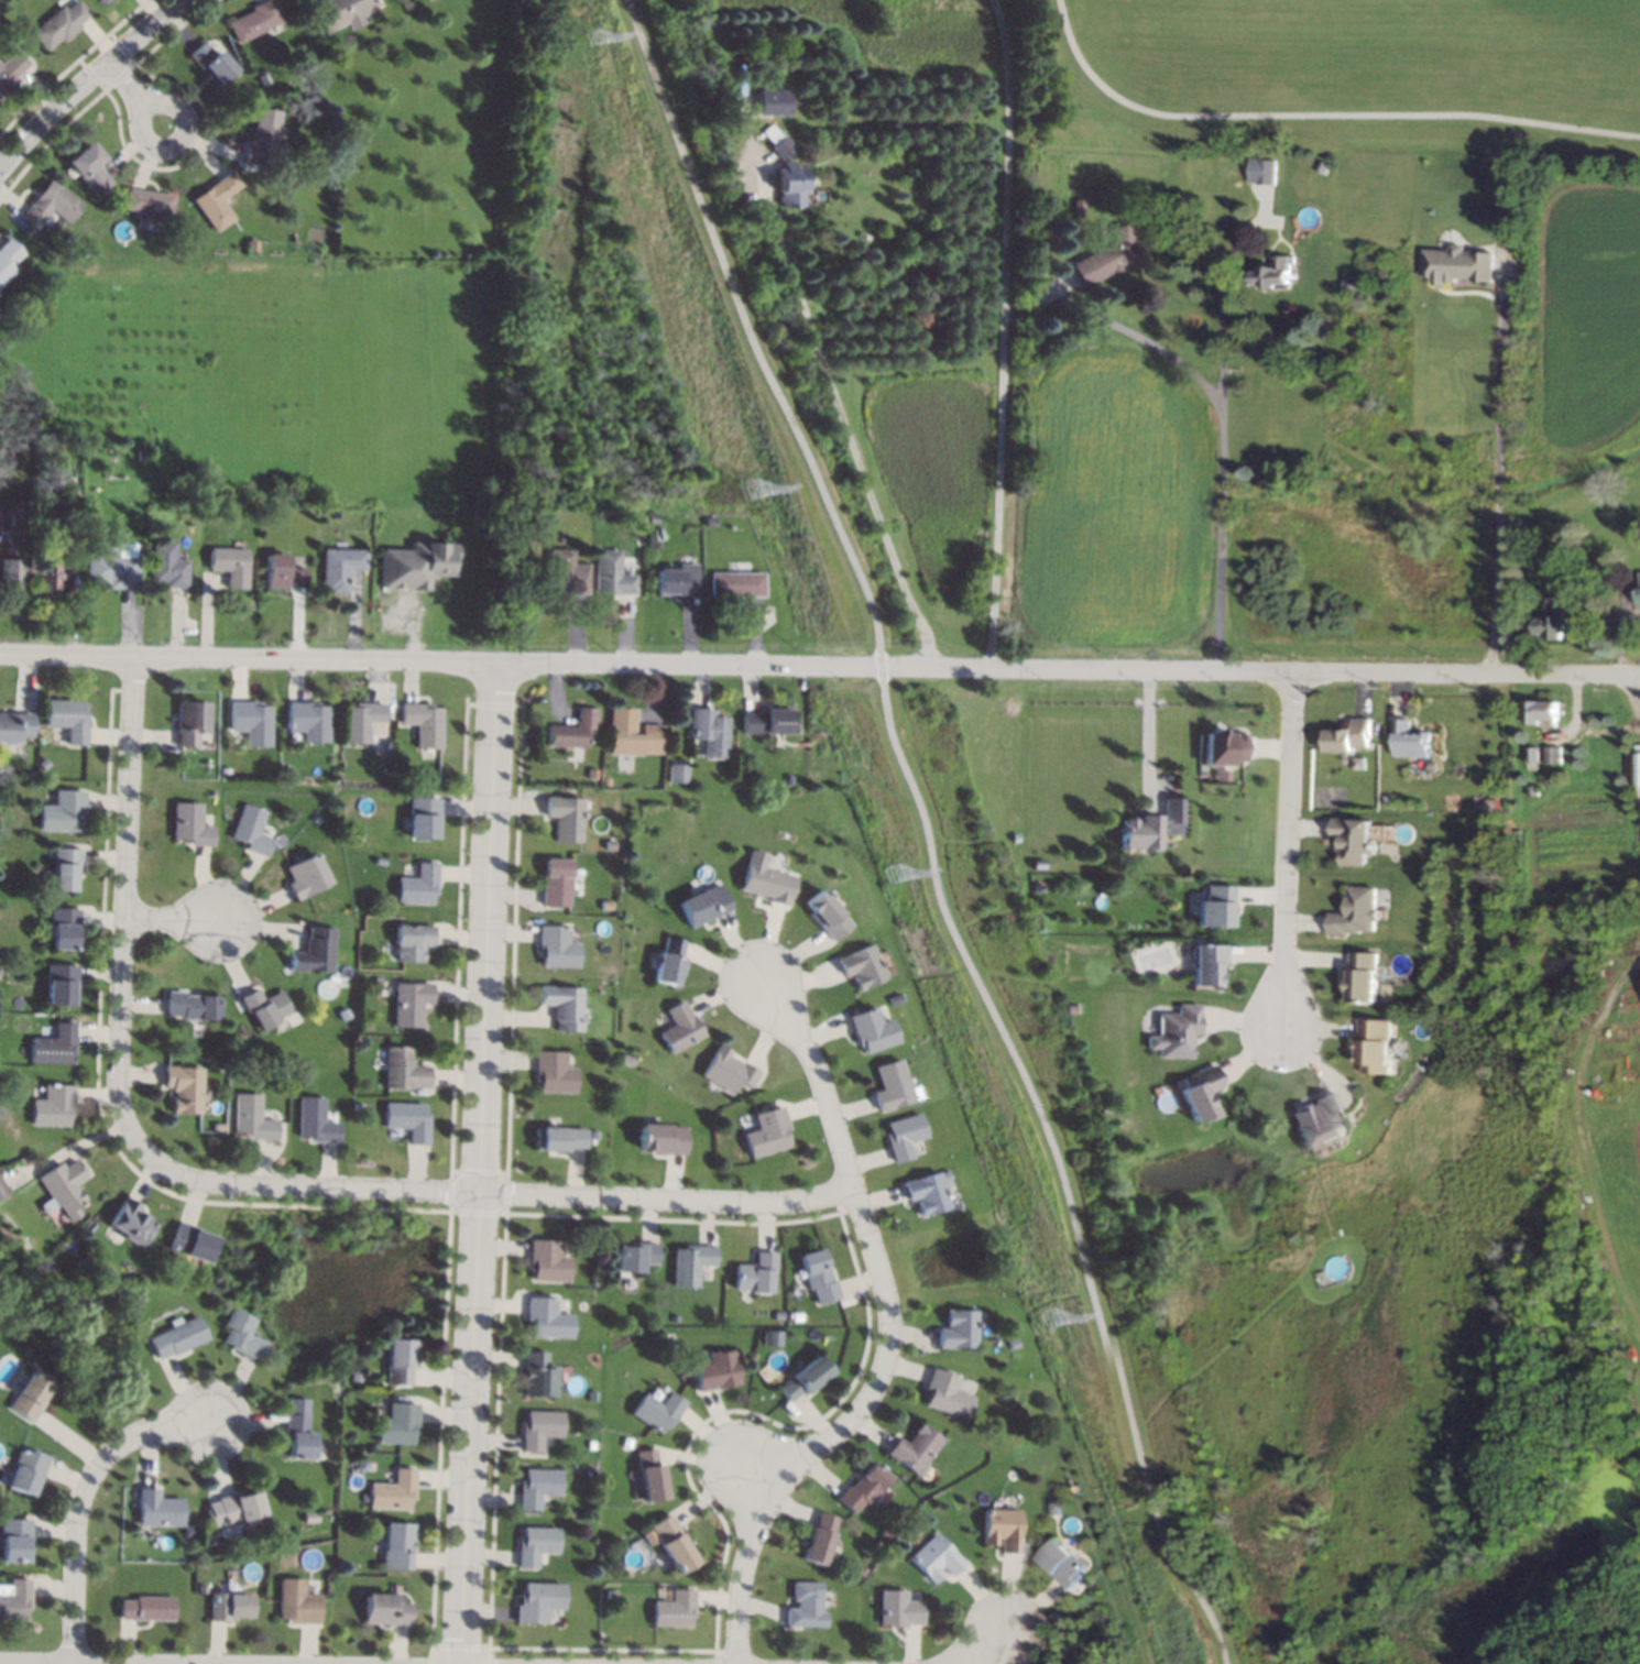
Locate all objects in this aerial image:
building: (105, 1)
building: (340, 12)
building: (256, 20)
building: (61, 24)
building: (20, 40)
building: (214, 62)
park: (1334, 70)
building: (11, 72)
road: (122, 77)
building: (264, 78)
road: (86, 86)
building: (773, 101)
road: (1319, 114)
building: (770, 133)
building: (264, 138)
road: (177, 141)
building: (783, 146)
building: (1321, 164)
building: (90, 167)
building: (1267, 171)
building: (790, 184)
building: (218, 200)
building: (51, 205)
building: (151, 205)
building: (1078, 206)
building: (252, 247)
building: (1113, 256)
building: (8, 258)
building: (1458, 263)
building: (1275, 273)
building: (1352, 282)
park: (746, 328)
road: (1002, 333)
road: (1146, 341)
road: (848, 420)
road: (1217, 440)
building: (41, 451)
building: (141, 453)
road: (1494, 482)
building: (64, 504)
building: (222, 508)
building: (17, 518)
building: (654, 518)
building: (712, 519)
building: (642, 522)
building: (659, 534)
building: (558, 536)
building: (416, 563)
building: (167, 565)
building: (229, 565)
building: (113, 567)
building: (340, 567)
building: (12, 572)
building: (282, 572)
building: (565, 573)
building: (611, 573)
building: (47, 577)
building: (678, 579)
building: (737, 583)
building: (1639, 589)
building: (1555, 621)
road: (819, 667)
building: (1541, 711)
road: (1605, 718)
building: (68, 719)
building: (308, 720)
building: (364, 721)
building: (767, 721)
building: (251, 722)
building: (189, 723)
building: (424, 723)
building: (15, 726)
building: (573, 730)
building: (709, 731)
building: (632, 734)
road: (1147, 734)
building: (1349, 736)
building: (1410, 740)
building: (1222, 747)
building: (1532, 755)
building: (1553, 755)
building: (44, 764)
building: (1431, 767)
building: (1637, 768)
building: (678, 773)
building: (1221, 774)
building: (30, 775)
building: (789, 780)
building: (1532, 789)
building: (208, 796)
building: (1385, 799)
building: (1639, 809)
building: (63, 812)
building: (425, 818)
building: (565, 818)
building: (190, 824)
building: (1149, 826)
building: (251, 830)
road: (927, 831)
building: (405, 833)
building: (1015, 838)
building: (1355, 841)
building: (610, 845)
road: (1287, 845)
building: (381, 862)
building: (65, 868)
building: (307, 874)
building: (765, 879)
building: (556, 883)
building: (419, 885)
building: (1039, 886)
building: (706, 906)
building: (1215, 907)
building: (1356, 913)
building: (824, 915)
road: (127, 917)
road: (174, 920)
building: (63, 929)
building: (414, 941)
building: (557, 948)
building: (316, 951)
building: (670, 962)
building: (1204, 964)
building: (860, 966)
building: (1367, 974)
building: (63, 983)
building: (378, 983)
building: (411, 1004)
building: (193, 1006)
building: (562, 1006)
building: (265, 1007)
building: (1069, 1008)
building: (679, 1028)
building: (870, 1029)
building: (1176, 1032)
building: (55, 1044)
building: (1401, 1044)
building: (1376, 1047)
building: (247, 1051)
building: (221, 1052)
building: (625, 1061)
building: (404, 1070)
building: (726, 1070)
building: (553, 1073)
building: (281, 1074)
building: (303, 1074)
building: (888, 1085)
building: (185, 1087)
building: (1199, 1093)
building: (54, 1106)
building: (253, 1118)
building: (408, 1120)
building: (316, 1121)
building: (1315, 1123)
building: (220, 1128)
building: (764, 1131)
building: (900, 1135)
building: (557, 1138)
building: (660, 1139)
road: (477, 1164)
park: (1048, 1169)
building: (2, 1187)
building: (64, 1187)
building: (922, 1192)
road: (502, 1195)
building: (133, 1220)
building: (193, 1242)
building: (634, 1257)
building: (545, 1261)
building: (689, 1263)
building: (752, 1273)
building: (814, 1277)
crop: (1573, 1291)
building: (136, 1300)
building: (775, 1315)
building: (794, 1316)
building: (546, 1318)
building: (673, 1318)
building: (954, 1328)
building: (242, 1335)
building: (789, 1336)
road: (887, 1336)
building: (177, 1337)
building: (769, 1337)
building: (398, 1358)
building: (682, 1371)
building: (714, 1371)
building: (536, 1376)
building: (356, 1377)
building: (800, 1378)
building: (941, 1393)
building: (31, 1395)
building: (657, 1412)
building: (398, 1424)
building: (298, 1427)
building: (538, 1430)
building: (625, 1443)
building: (589, 1445)
building: (911, 1448)
building: (28, 1471)
building: (648, 1476)
building: (861, 1487)
building: (536, 1488)
building: (393, 1491)
road: (83, 1496)
building: (636, 1496)
building: (234, 1508)
building: (158, 1509)
building: (1056, 1509)
building: (311, 1517)
building: (999, 1529)
building: (817, 1539)
building: (15, 1540)
building: (673, 1543)
building: (398, 1545)
building: (534, 1545)
building: (933, 1557)
building: (1063, 1564)
building: (201, 1588)
building: (610, 1595)
building: (15, 1599)
building: (296, 1602)
building: (536, 1602)
building: (803, 1605)
building: (229, 1606)
building: (146, 1608)
building: (385, 1608)
building: (673, 1610)
building: (897, 1610)
road: (1002, 1613)
road: (984, 1614)
road: (1024, 1622)
road: (65, 1663)

